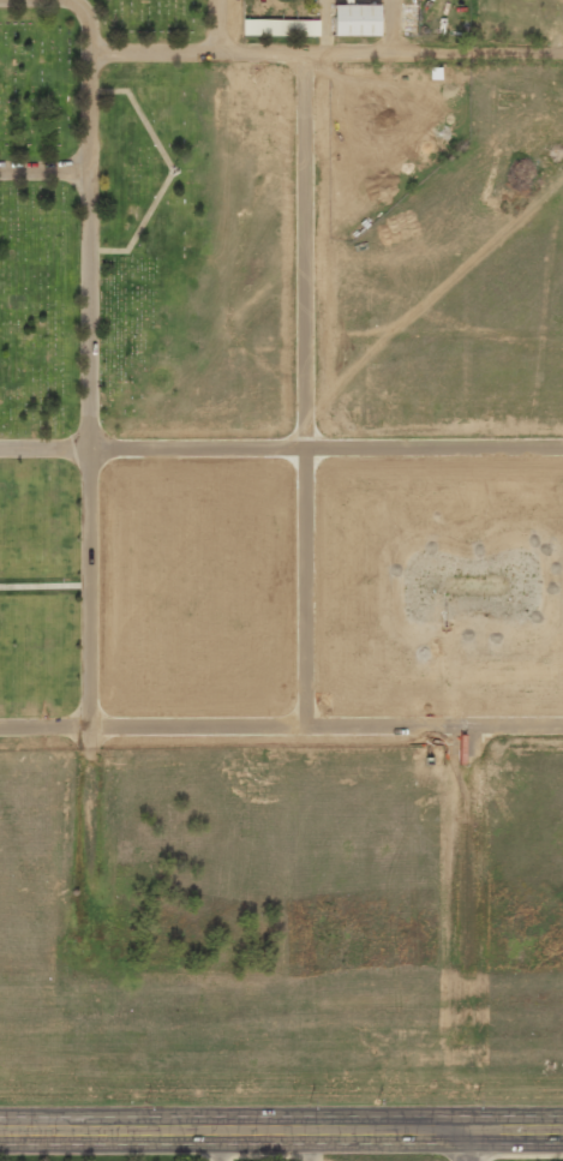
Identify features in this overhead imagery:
building: (354, 19)
building: (280, 26)
road: (43, 169)
park: (85, 363)
road: (88, 403)
road: (44, 445)
road: (281, 1130)
road: (462, 1145)

